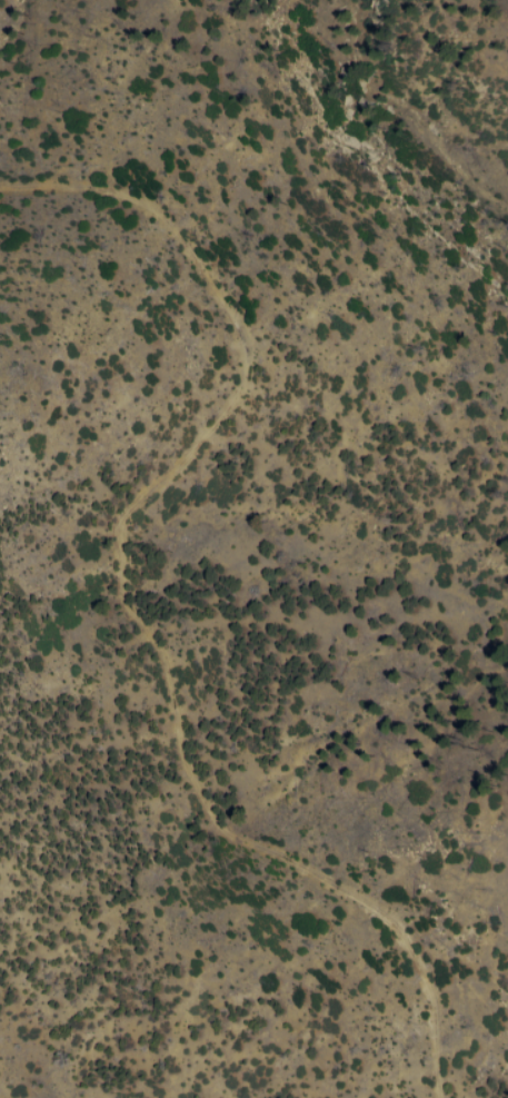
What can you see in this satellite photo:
road: (122, 605)

